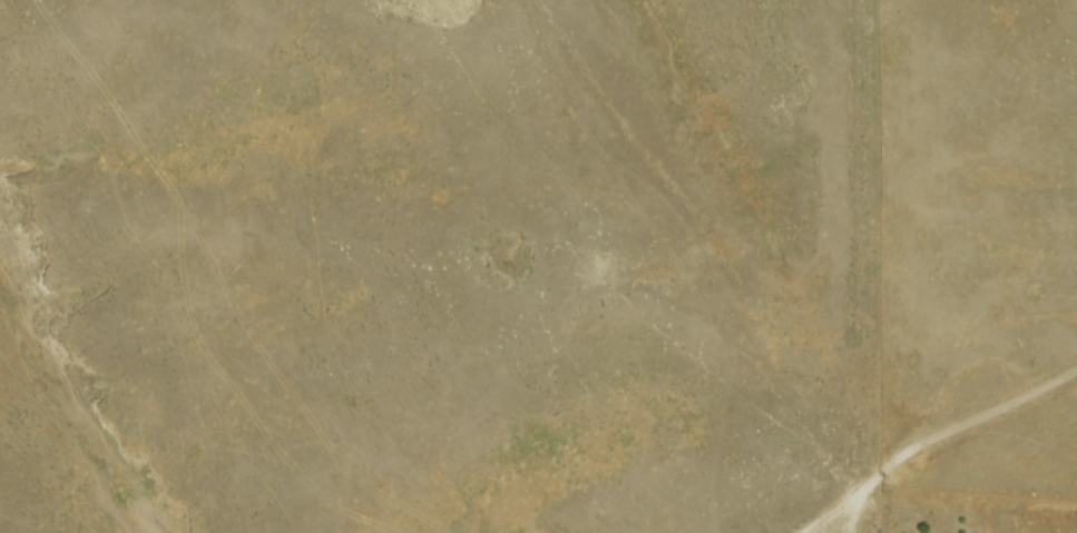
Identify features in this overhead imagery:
road: (929, 438)
road: (854, 507)

